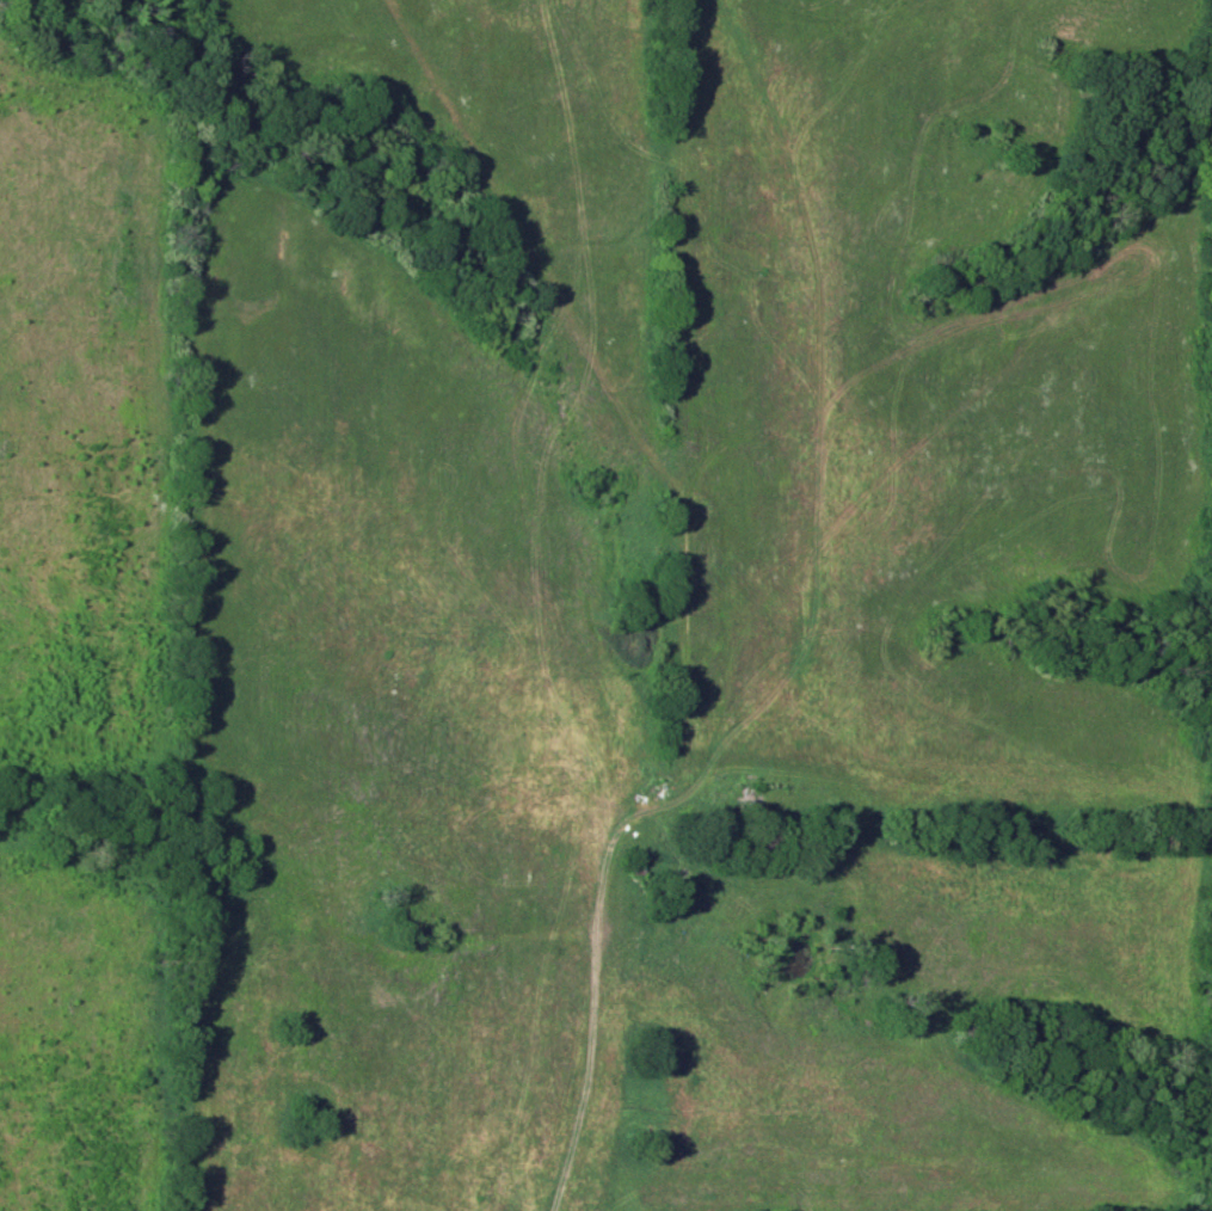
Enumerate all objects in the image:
road: (812, 1096)

